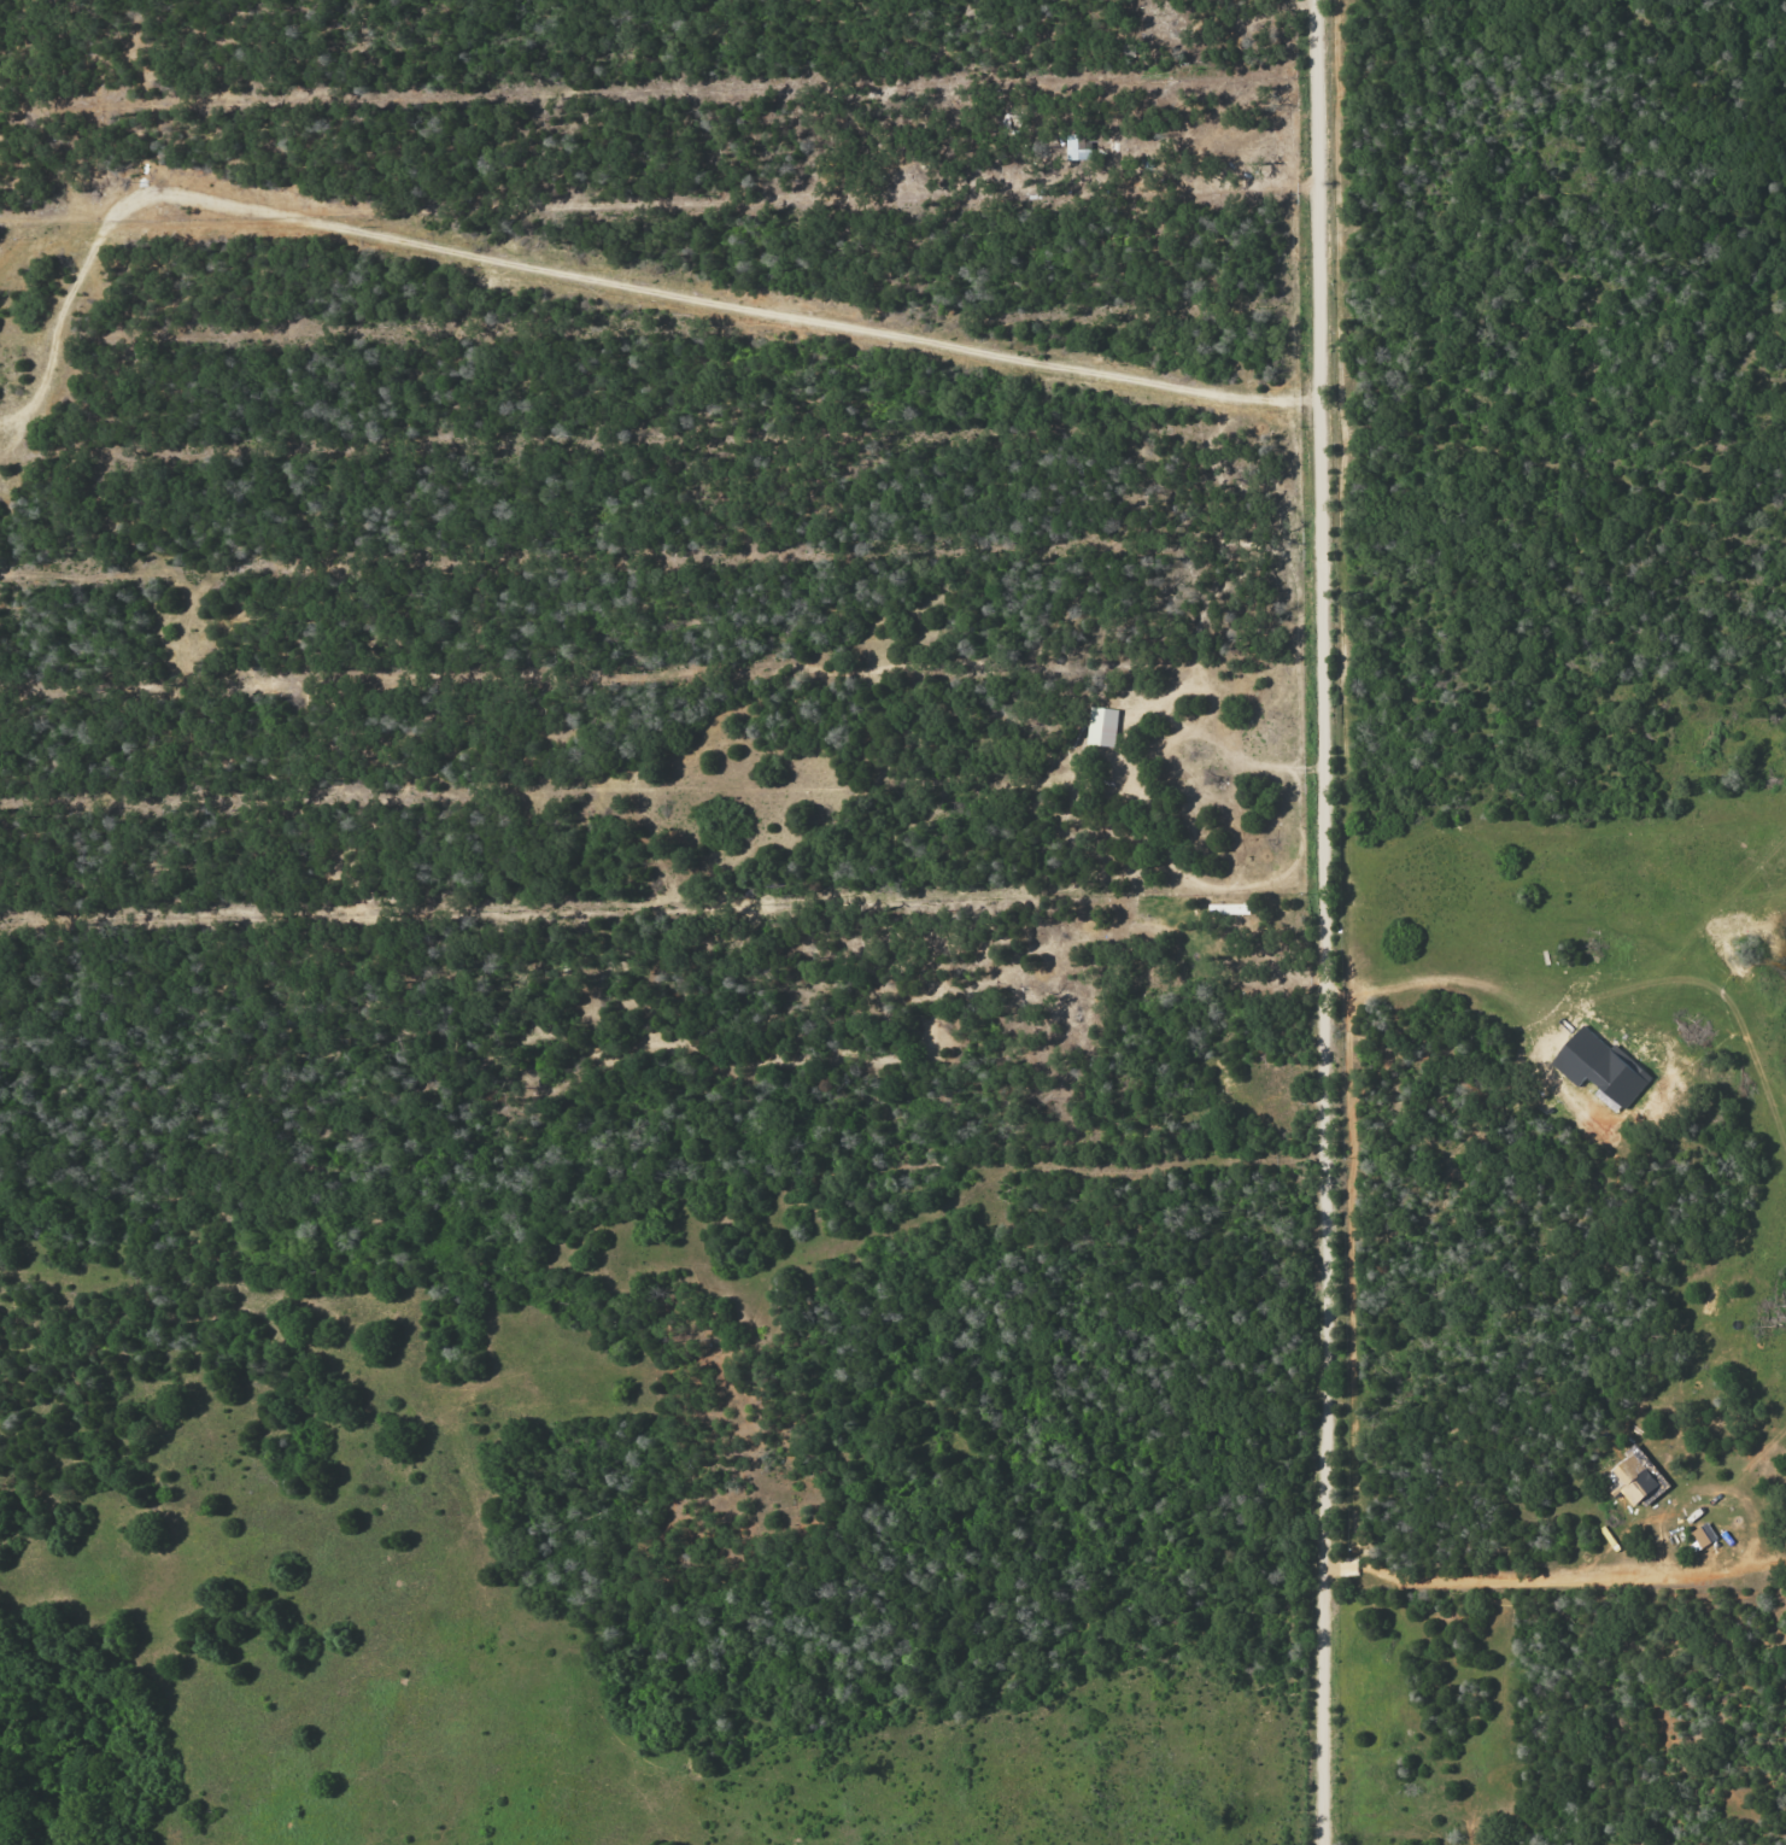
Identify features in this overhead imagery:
building: (1102, 726)
road: (1325, 921)
park: (1271, 1118)
building: (1700, 1535)

